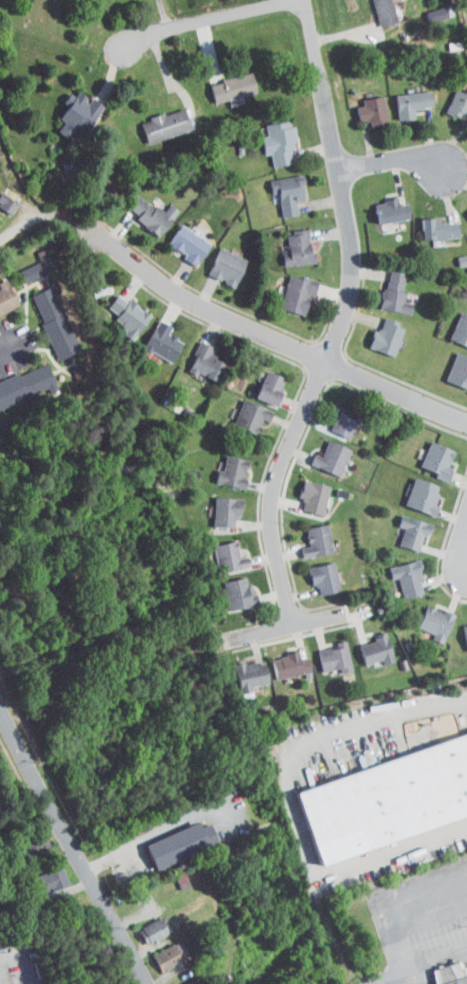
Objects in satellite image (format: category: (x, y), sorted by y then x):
building: (425, 8)
building: (374, 9)
road: (215, 20)
building: (222, 81)
building: (401, 97)
building: (452, 97)
building: (362, 105)
building: (66, 109)
building: (154, 119)
building: (268, 136)
road: (391, 159)
building: (277, 187)
building: (2, 198)
building: (380, 204)
building: (140, 208)
building: (463, 211)
road: (57, 215)
building: (428, 223)
building: (178, 238)
building: (287, 242)
building: (27, 260)
building: (216, 261)
building: (384, 286)
building: (287, 288)
building: (3, 296)
building: (117, 310)
building: (44, 316)
road: (345, 320)
building: (455, 324)
road: (251, 330)
building: (375, 332)
building: (152, 336)
road: (7, 343)
building: (195, 356)
building: (452, 365)
building: (20, 378)
building: (259, 382)
road: (433, 406)
building: (240, 411)
building: (332, 417)
building: (321, 452)
building: (426, 454)
building: (222, 466)
building: (303, 491)
building: (411, 491)
building: (215, 505)
building: (402, 526)
building: (306, 535)
road: (463, 537)
building: (218, 551)
building: (313, 572)
building: (397, 572)
building: (227, 587)
building: (425, 617)
road: (286, 625)
building: (460, 630)
building: (366, 644)
building: (324, 652)
building: (279, 659)
building: (240, 669)
building: (380, 790)
road: (292, 805)
road: (156, 833)
building: (168, 836)
road: (74, 842)
building: (38, 873)
road: (396, 914)
building: (143, 923)
building: (157, 950)
road: (422, 968)
building: (449, 974)
building: (176, 980)

